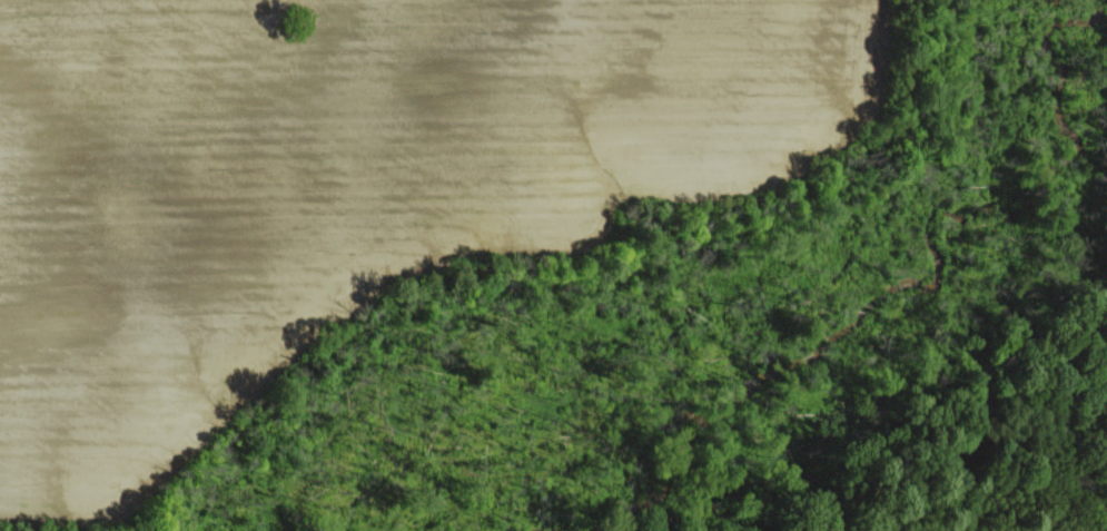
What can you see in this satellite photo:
crop: (339, 184)

